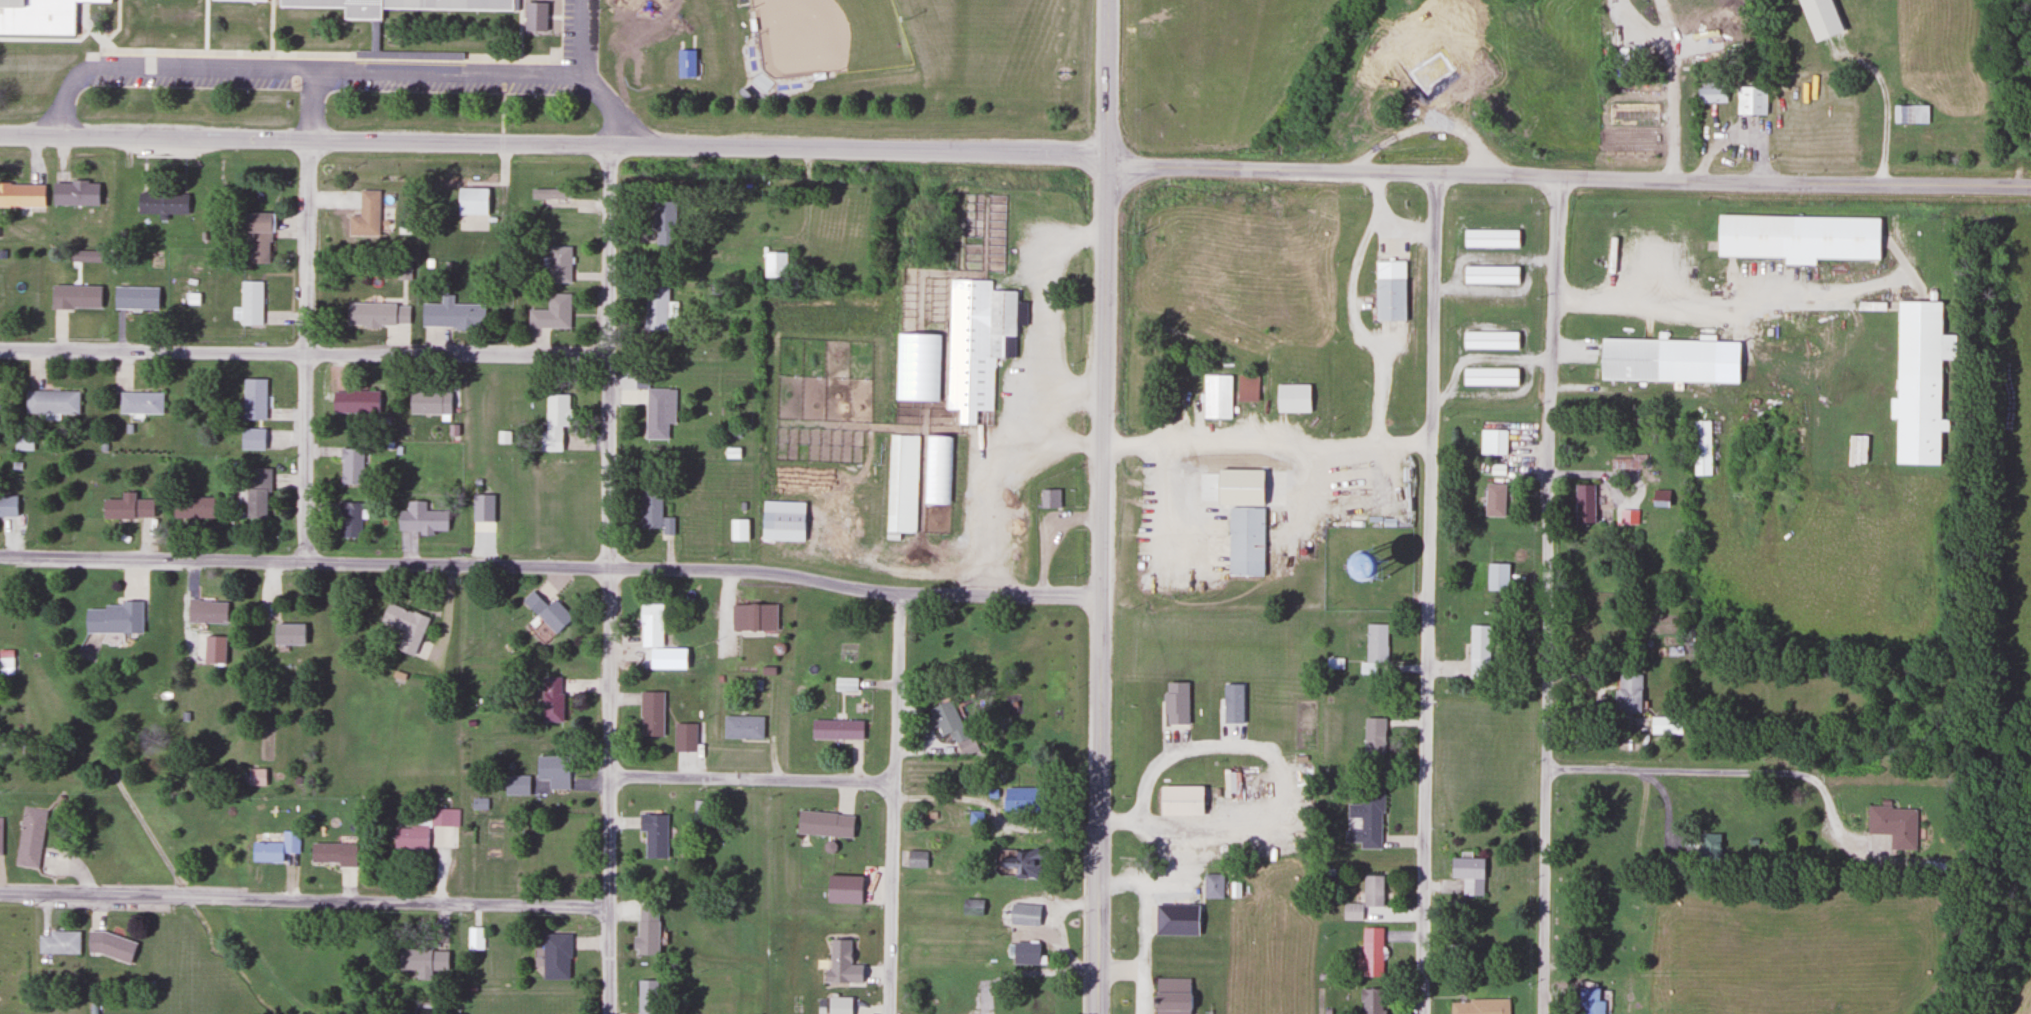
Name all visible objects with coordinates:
building: (248, 0)
building: (395, 5)
building: (39, 15)
park: (824, 35)
building: (1420, 38)
building: (684, 63)
road: (342, 73)
building: (1710, 93)
building: (1434, 96)
building: (1750, 100)
building: (1909, 114)
building: (2028, 139)
road: (552, 143)
road: (1568, 176)
building: (68, 193)
building: (21, 194)
building: (545, 194)
building: (161, 203)
building: (462, 204)
building: (365, 215)
building: (255, 234)
building: (1489, 238)
building: (1797, 238)
building: (558, 265)
building: (773, 265)
building: (1489, 275)
building: (1389, 290)
building: (75, 297)
building: (135, 299)
building: (250, 303)
building: (655, 308)
building: (376, 314)
building: (551, 314)
building: (452, 315)
road: (307, 317)
building: (1488, 340)
building: (978, 346)
road: (305, 350)
building: (1657, 359)
building: (1488, 376)
building: (1918, 383)
building: (1247, 388)
building: (1216, 396)
building: (1292, 398)
building: (253, 399)
building: (50, 402)
building: (139, 402)
building: (354, 402)
building: (428, 403)
building: (656, 414)
building: (552, 423)
building: (250, 439)
building: (1493, 442)
building: (22, 443)
building: (1701, 448)
road: (1267, 449)
building: (1624, 464)
building: (350, 465)
building: (936, 470)
building: (901, 484)
building: (256, 493)
building: (1659, 498)
building: (1049, 499)
building: (1494, 499)
building: (1584, 504)
building: (7, 506)
building: (127, 507)
building: (192, 507)
road: (1103, 507)
building: (654, 512)
building: (420, 519)
building: (349, 520)
building: (781, 521)
building: (738, 530)
building: (1244, 542)
road: (551, 566)
building: (1348, 566)
water tower: (1369, 568)
building: (1497, 577)
road: (610, 579)
road: (1428, 592)
road: (1545, 594)
building: (205, 611)
building: (546, 612)
building: (113, 618)
building: (754, 618)
building: (404, 626)
building: (649, 626)
building: (288, 633)
building: (1375, 643)
building: (1479, 649)
building: (6, 663)
building: (1627, 693)
building: (551, 700)
building: (651, 714)
building: (1664, 725)
building: (741, 728)
building: (950, 728)
building: (836, 730)
building: (1373, 736)
building: (684, 738)
building: (552, 771)
road: (1733, 773)
building: (256, 777)
road: (753, 778)
building: (516, 785)
building: (1019, 799)
building: (1179, 801)
road: (893, 802)
road: (996, 814)
building: (443, 817)
building: (1366, 821)
building: (823, 825)
building: (1893, 826)
building: (411, 835)
building: (653, 835)
building: (0, 837)
building: (30, 837)
building: (1709, 847)
building: (275, 848)
building: (332, 853)
building: (915, 860)
building: (1016, 865)
building: (1467, 875)
building: (1212, 886)
building: (841, 890)
building: (1365, 898)
road: (304, 902)
building: (1024, 915)
building: (1174, 919)
building: (474, 938)
building: (58, 942)
building: (109, 947)
building: (1370, 952)
building: (1025, 953)
building: (554, 957)
road: (262, 962)
building: (422, 962)
building: (932, 990)
building: (1041, 995)
building: (1174, 995)
building: (646, 997)
building: (1372, 1001)
building: (1589, 1001)
building: (1479, 1007)
building: (1041, 1013)

